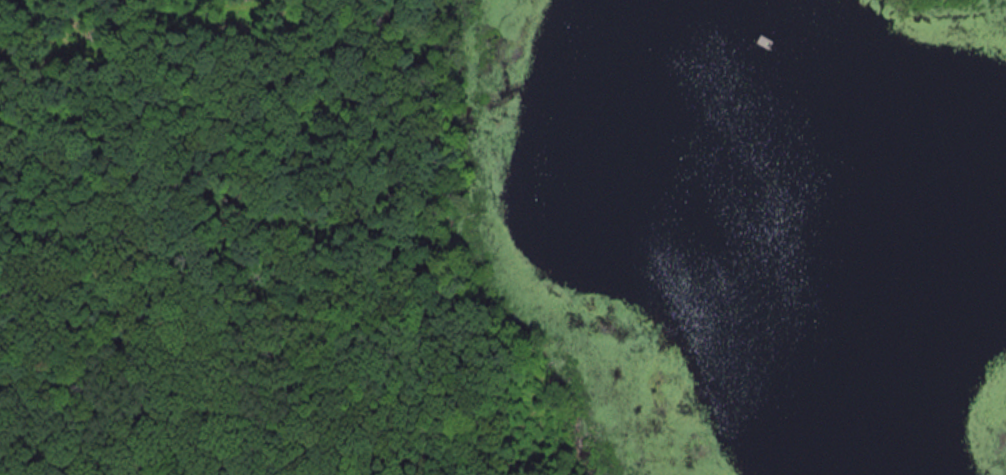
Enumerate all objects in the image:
park: (358, 238)

